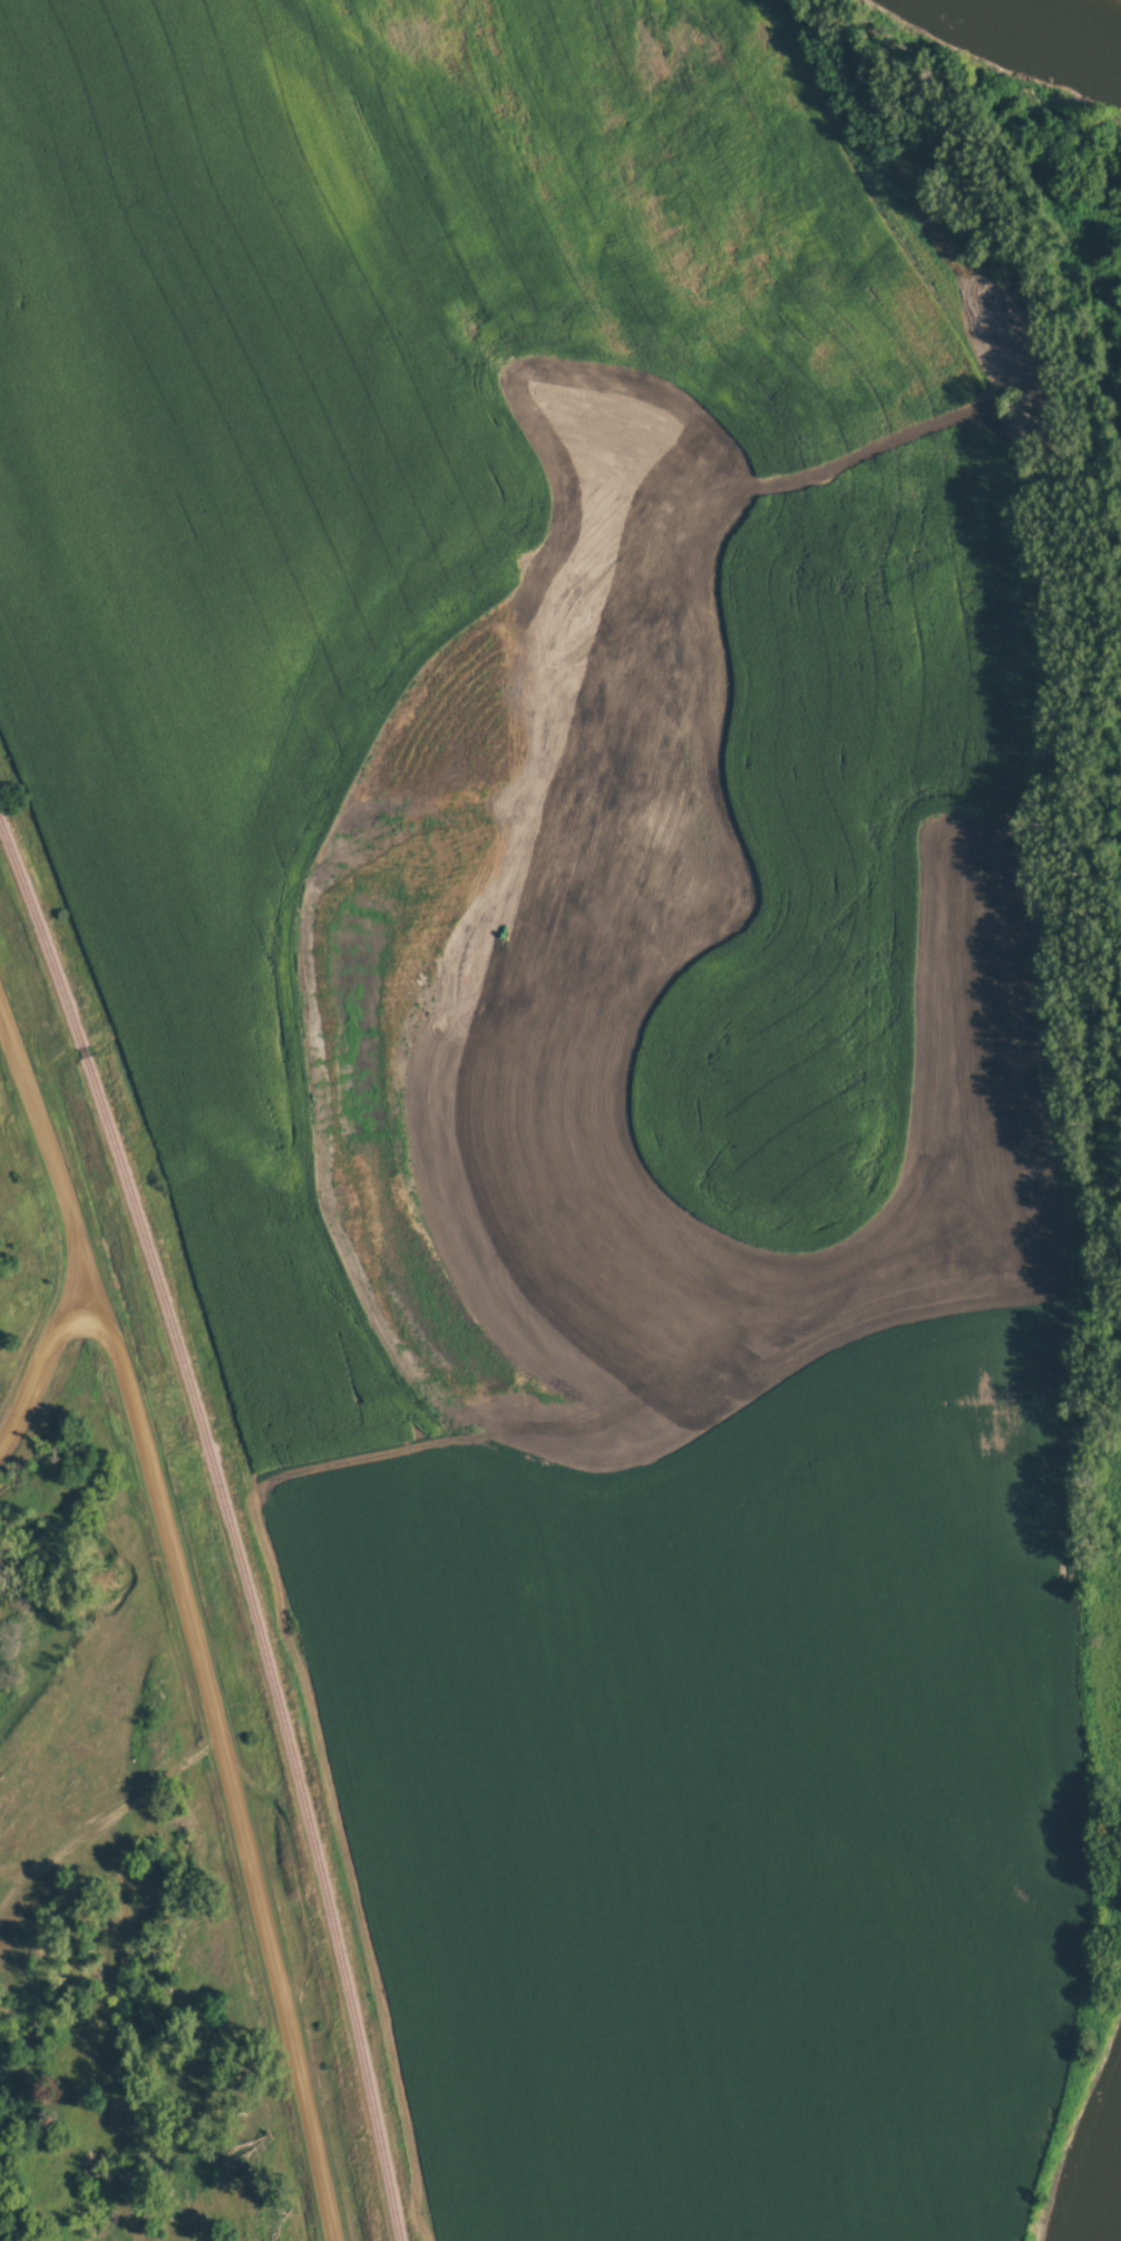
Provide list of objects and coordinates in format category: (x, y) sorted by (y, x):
railway: (40, 935)
railway: (82, 1051)
road: (41, 1354)
road: (189, 1618)
railway: (262, 1643)

